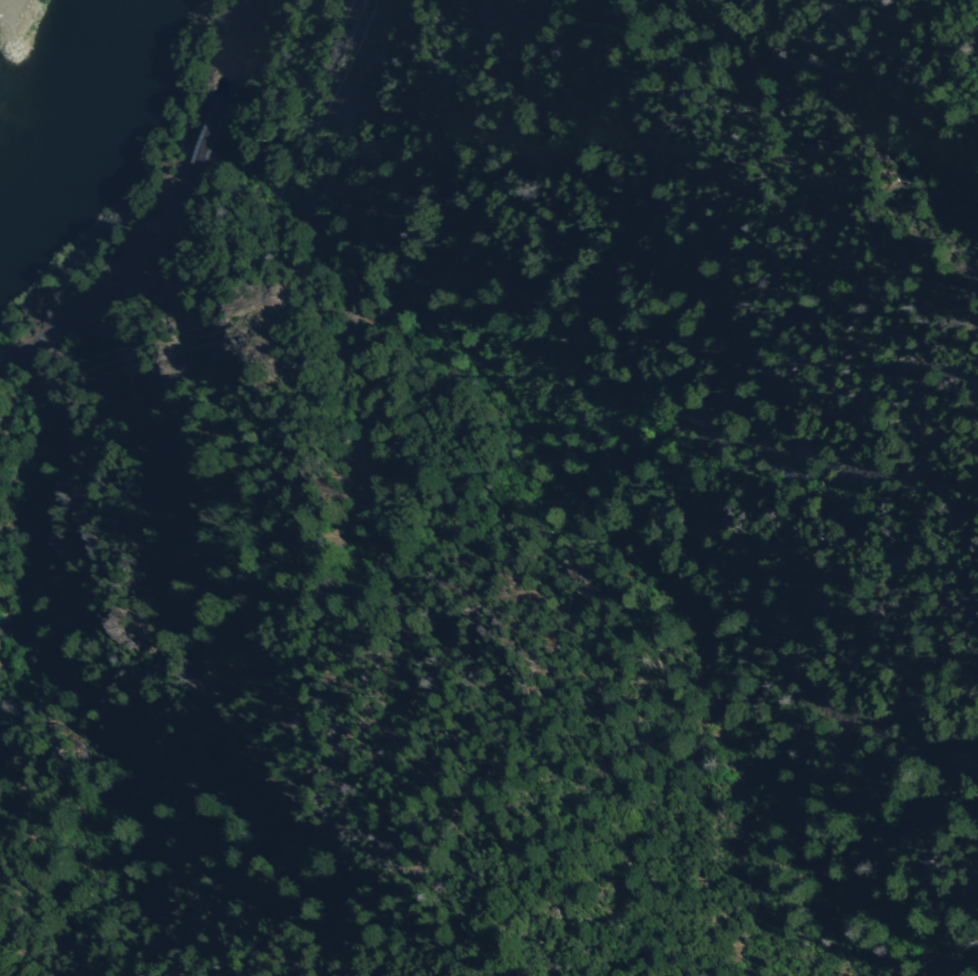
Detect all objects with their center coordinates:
parking lot: (6, 14)
river: (111, 60)
river: (66, 163)
railway: (169, 210)
river: (17, 212)
power tower: (244, 327)

